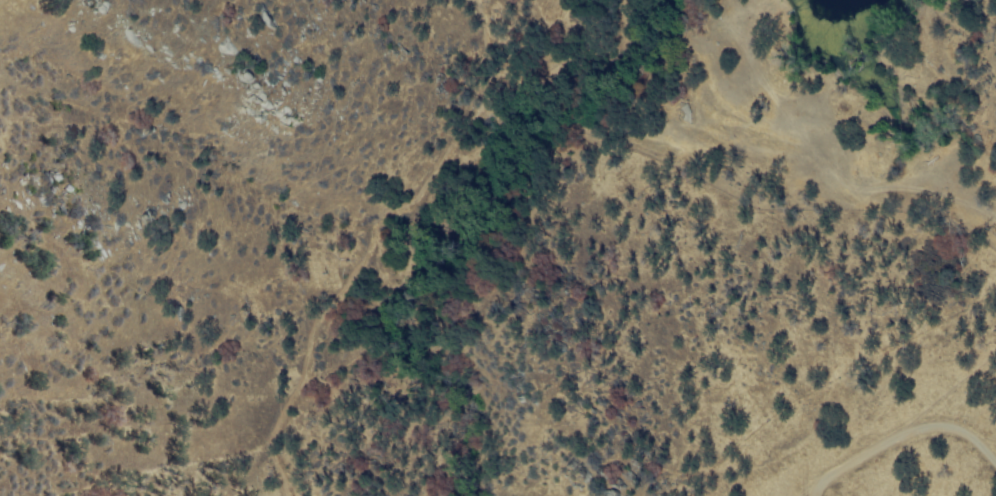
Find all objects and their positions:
road: (992, 461)

